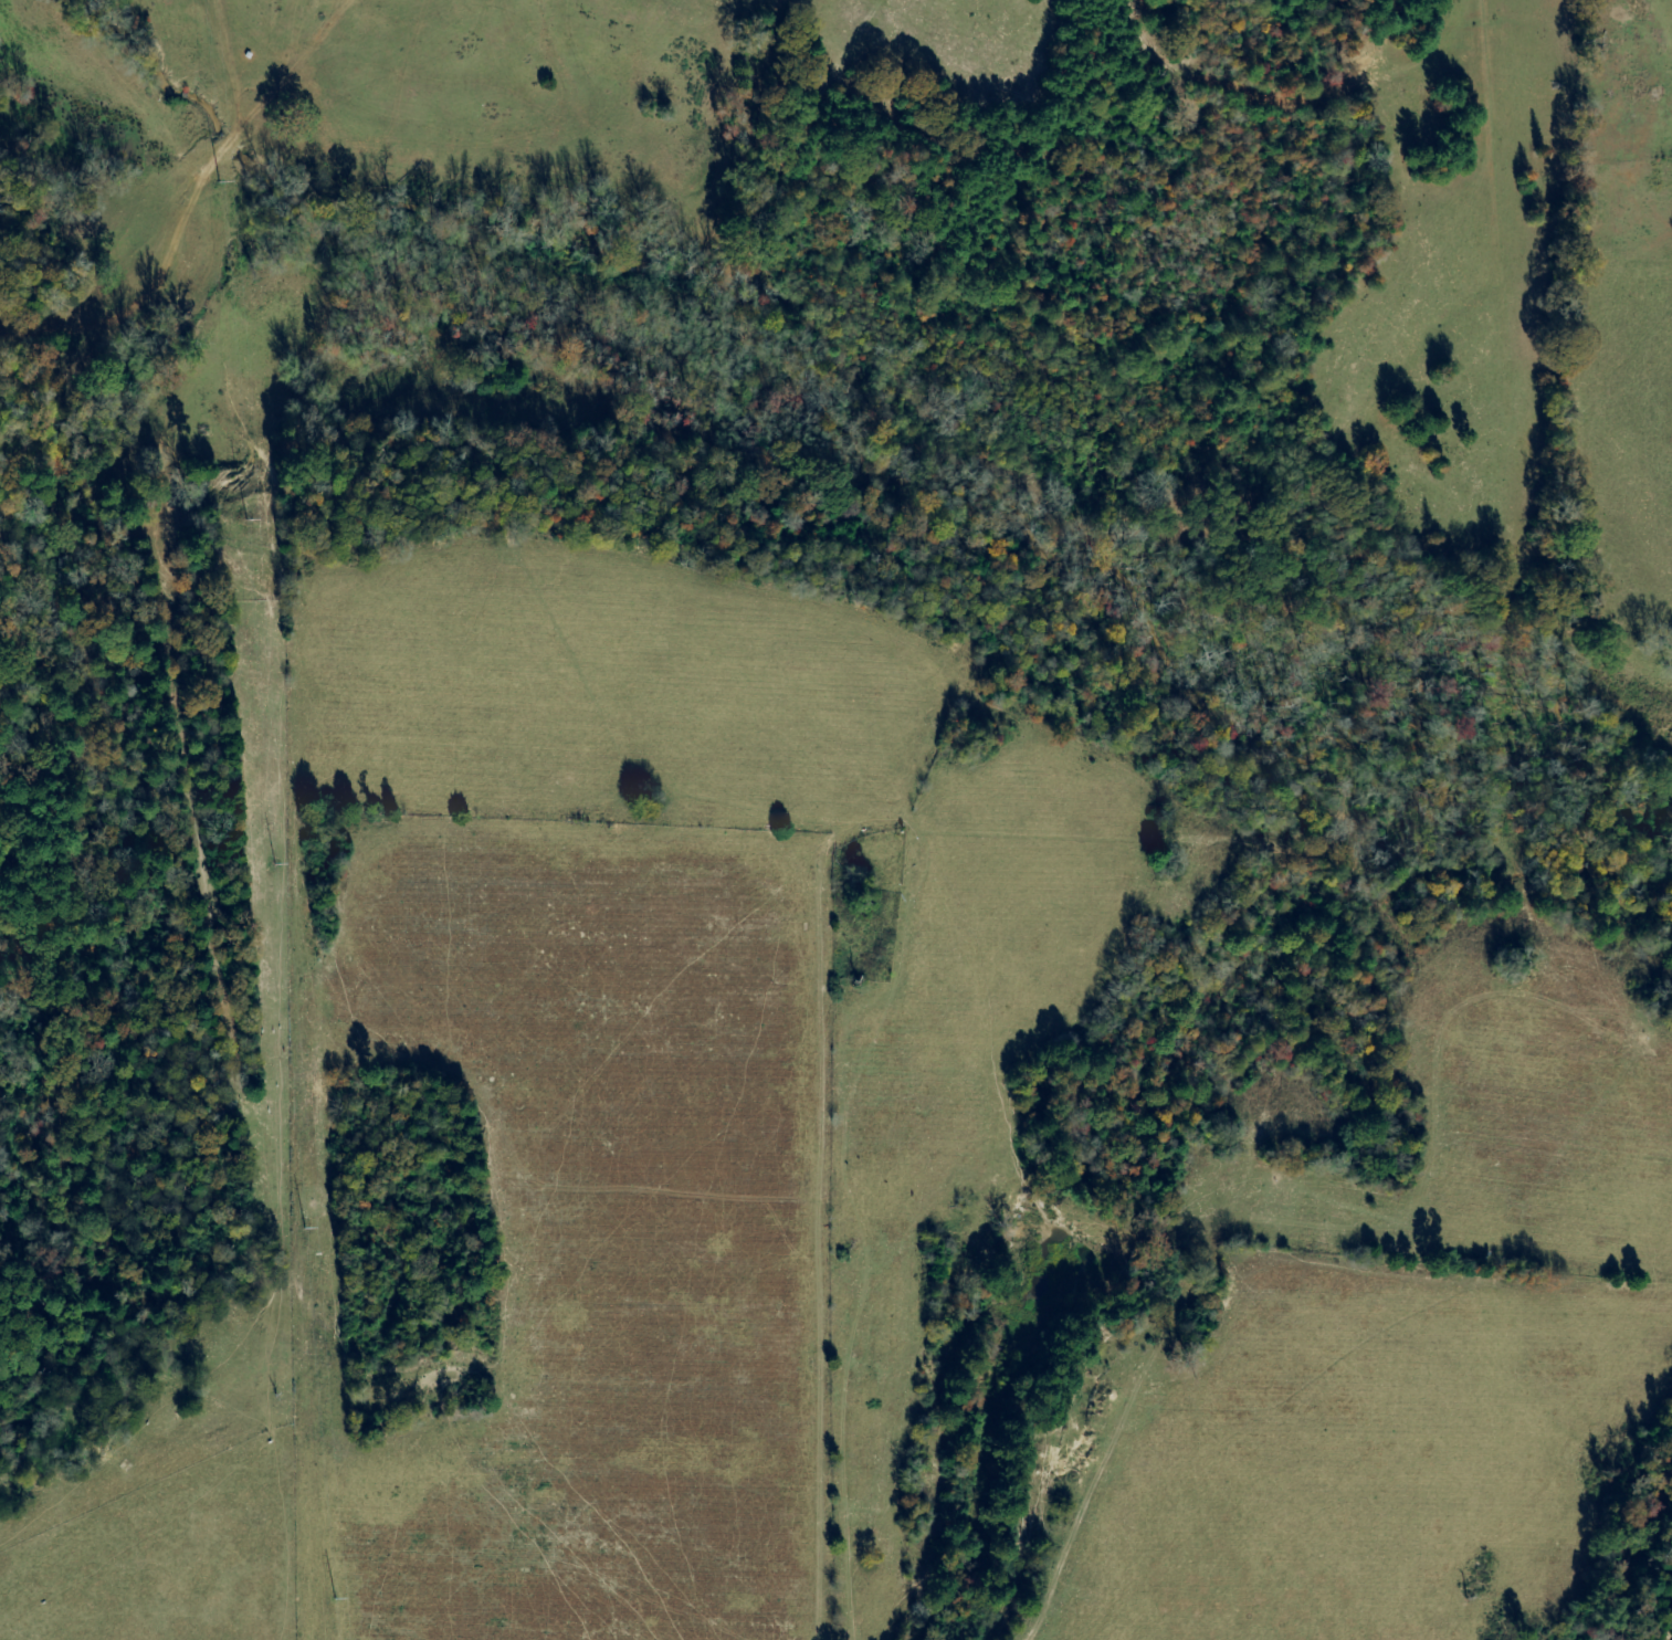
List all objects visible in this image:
road: (1626, 1541)

